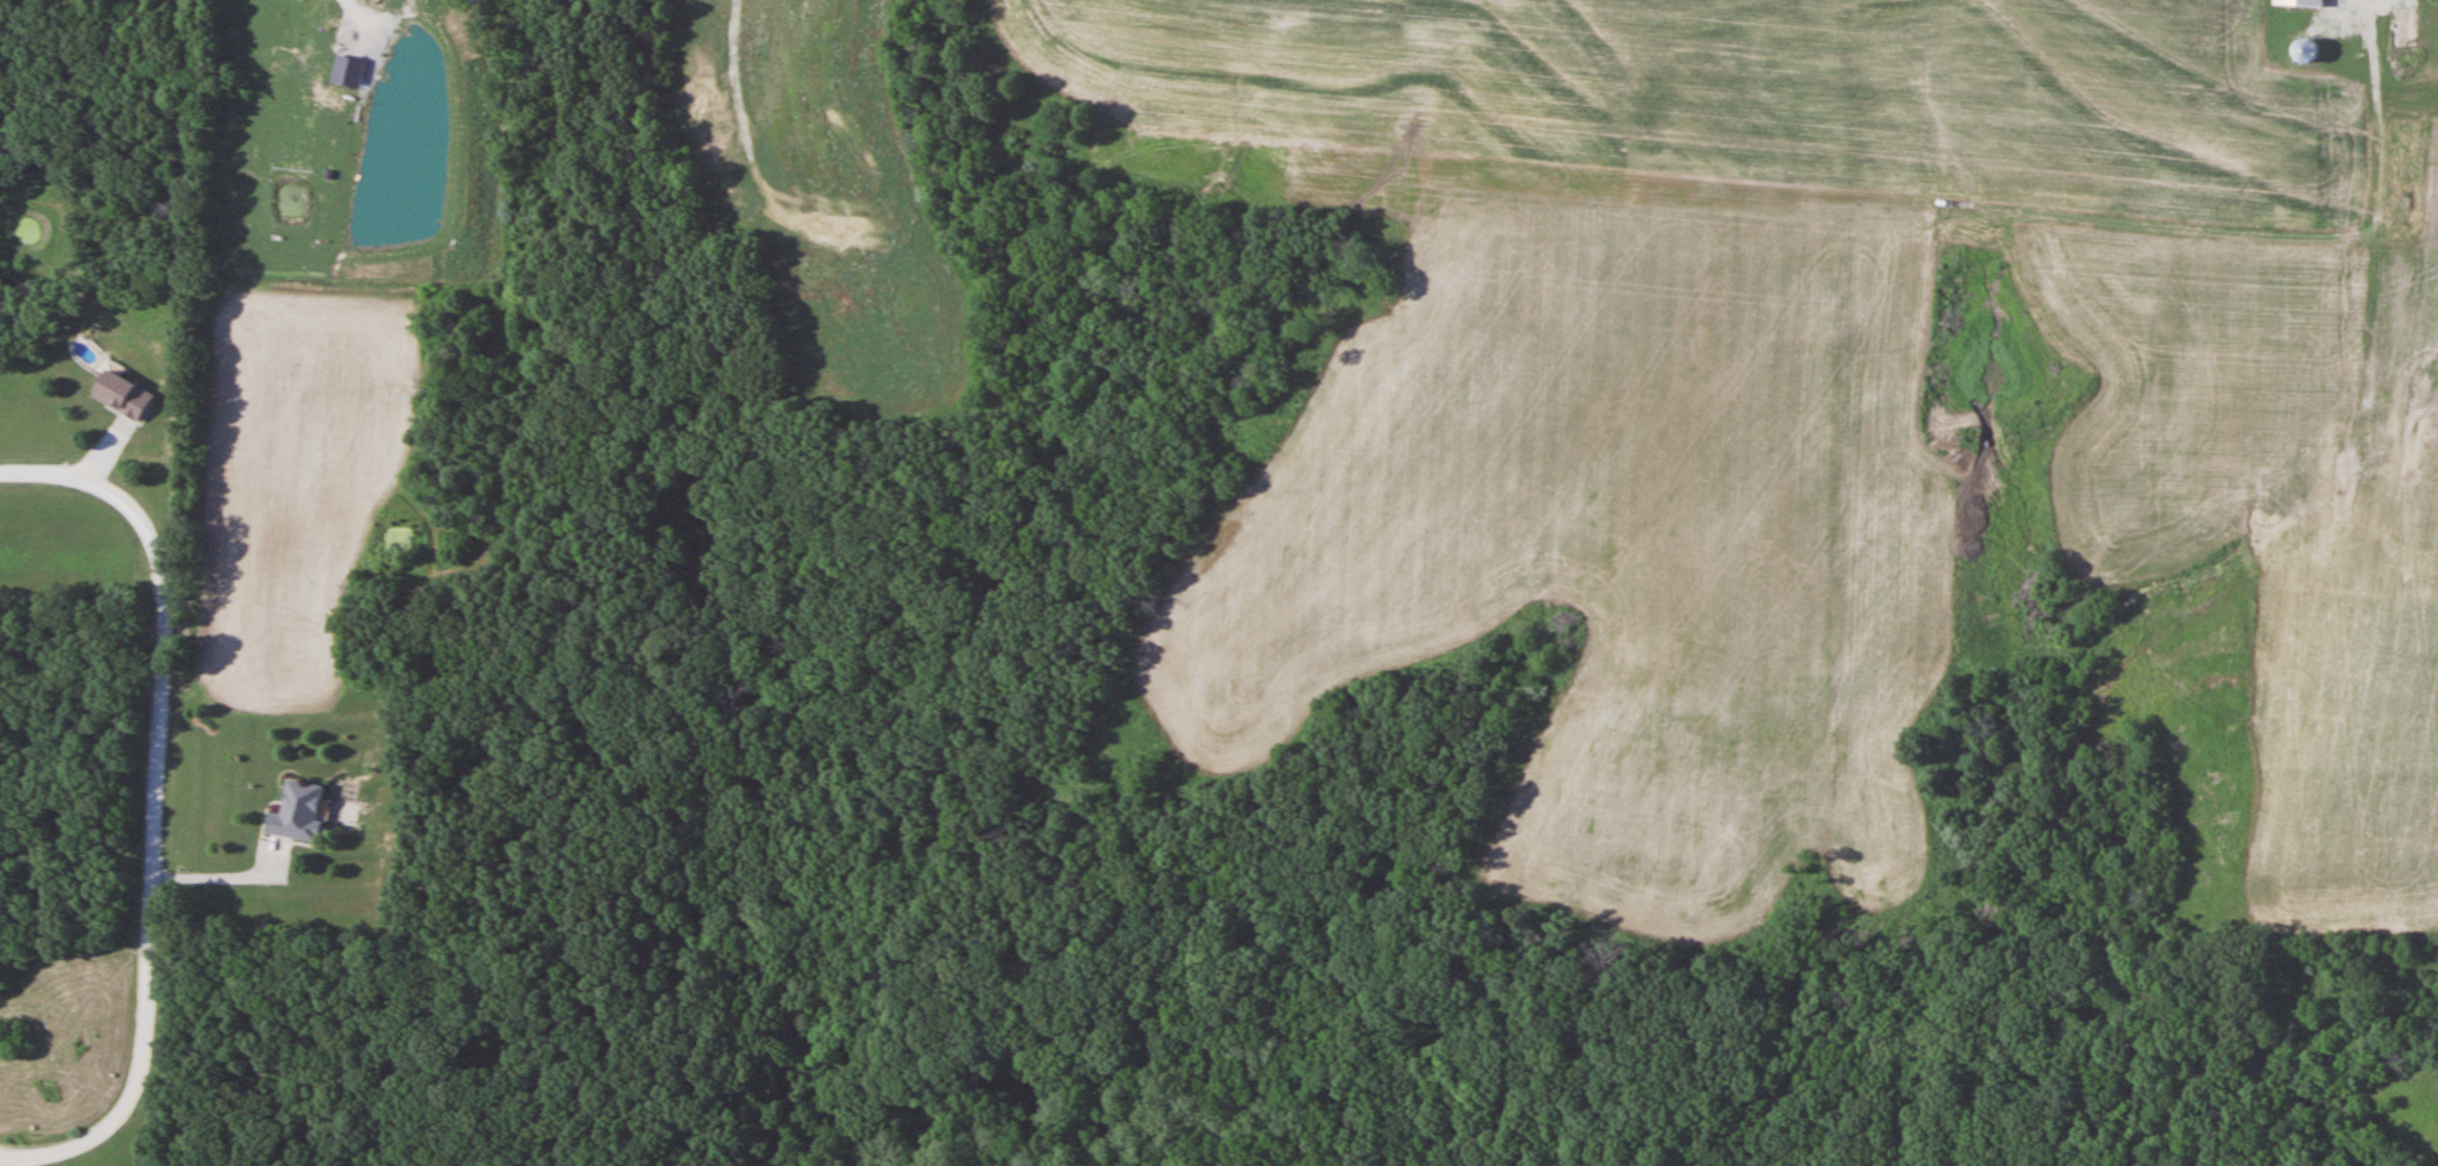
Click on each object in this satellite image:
building: (2300, 2)
road: (158, 805)
building: (298, 813)
road: (229, 878)

